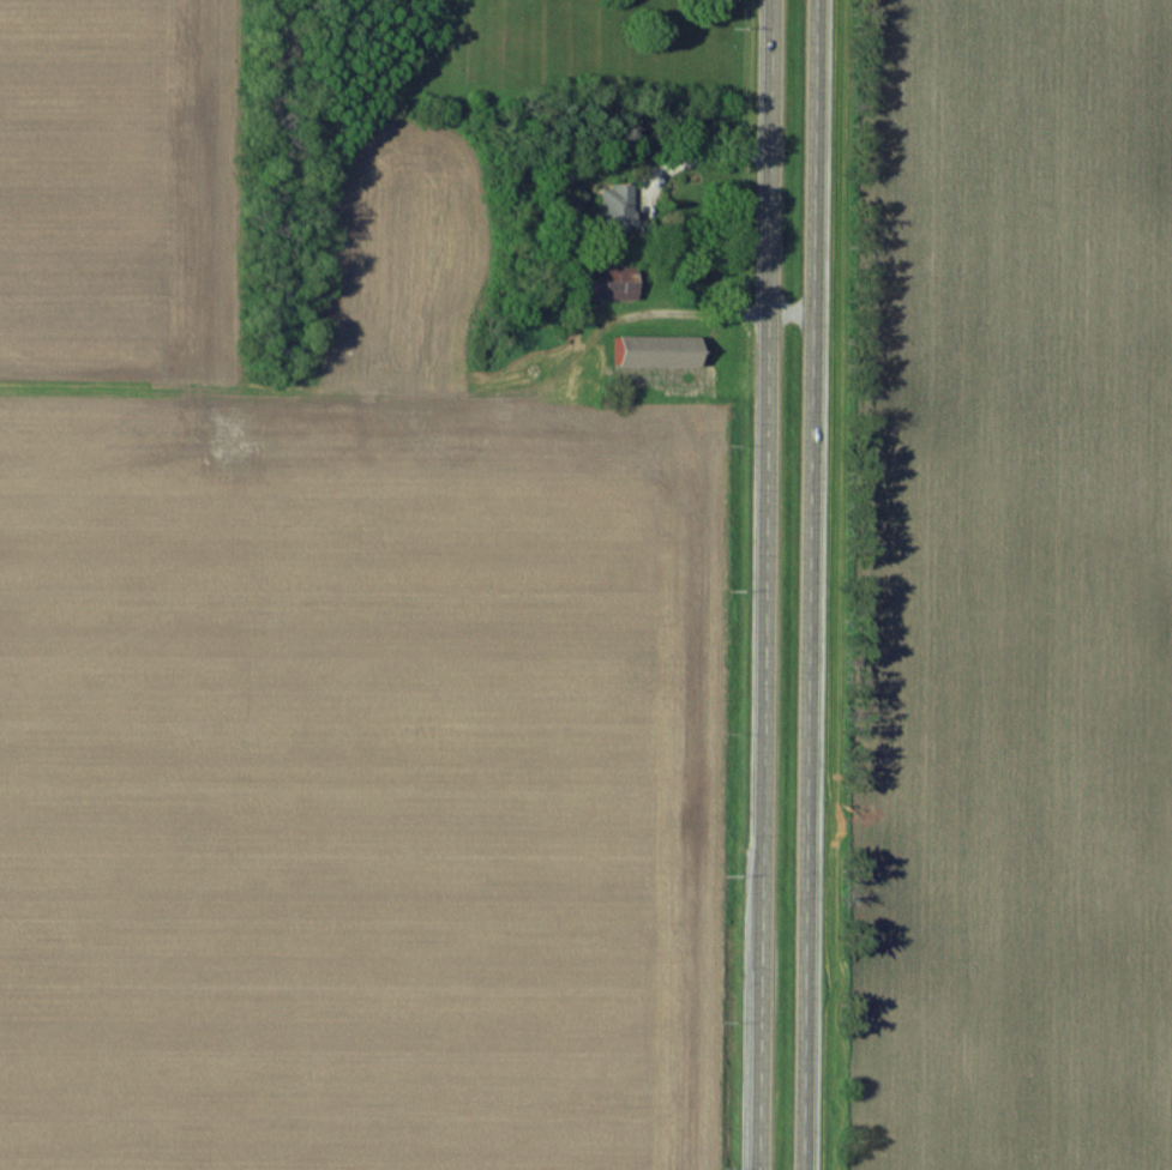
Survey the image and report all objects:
road: (693, 162)
crop: (120, 194)
building: (618, 207)
building: (644, 231)
crop: (403, 255)
building: (611, 281)
road: (691, 313)
building: (656, 350)
road: (767, 584)
road: (810, 585)
crop: (1012, 590)

